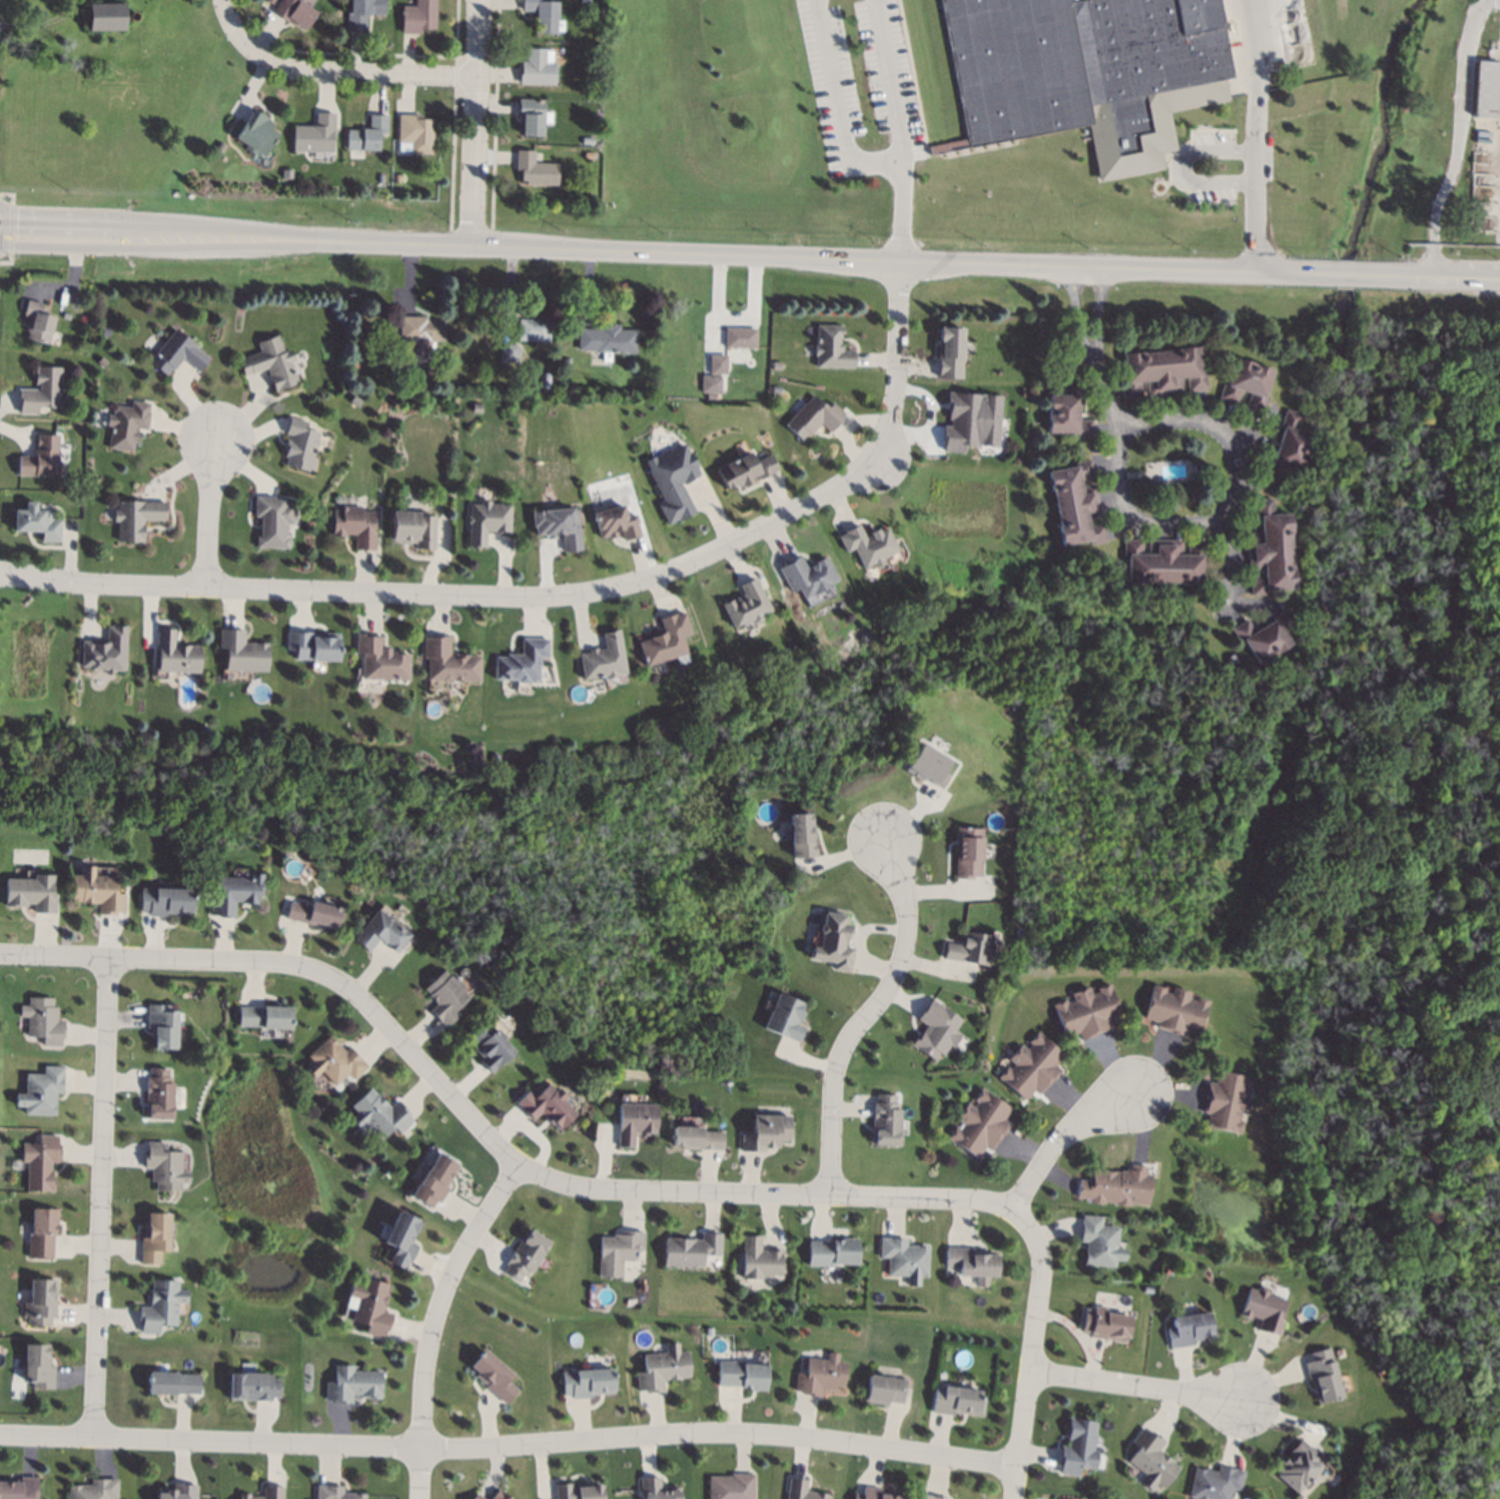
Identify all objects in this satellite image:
road: (225, 1)
building: (271, 1)
building: (585, 1)
building: (295, 12)
building: (362, 13)
building: (543, 14)
building: (419, 16)
building: (107, 17)
building: (71, 42)
road: (1253, 58)
building: (537, 68)
road: (336, 69)
building: (594, 71)
building: (1086, 71)
road: (890, 83)
building: (1485, 89)
road: (836, 99)
building: (531, 116)
road: (477, 121)
road: (1457, 132)
building: (256, 133)
building: (414, 133)
building: (315, 134)
building: (368, 134)
building: (588, 139)
building: (947, 146)
building: (221, 147)
building: (589, 155)
road: (1180, 167)
building: (535, 169)
building: (287, 174)
building: (381, 178)
building: (398, 178)
road: (1255, 193)
road: (11, 194)
road: (900, 209)
traffic signals: (17, 219)
road: (61, 220)
road: (10, 228)
road: (241, 228)
road: (180, 247)
road: (629, 249)
road: (9, 262)
road: (1104, 267)
road: (1350, 274)
road: (1444, 277)
road: (1077, 310)
road: (1098, 310)
building: (66, 315)
building: (37, 322)
building: (532, 329)
building: (420, 330)
building: (105, 331)
building: (740, 336)
building: (607, 338)
building: (830, 347)
building: (508, 352)
building: (947, 352)
building: (176, 353)
building: (352, 361)
building: (566, 361)
building: (271, 362)
building: (717, 363)
building: (1161, 371)
building: (434, 373)
building: (544, 380)
building: (717, 380)
building: (1247, 384)
building: (775, 388)
building: (40, 391)
road: (1107, 393)
building: (475, 407)
building: (1067, 411)
building: (812, 416)
building: (971, 420)
building: (126, 424)
building: (300, 445)
building: (1287, 446)
building: (40, 458)
building: (743, 470)
building: (672, 480)
building: (1075, 503)
road: (1226, 509)
building: (136, 517)
building: (272, 520)
building: (486, 520)
building: (36, 522)
road: (211, 522)
building: (615, 522)
building: (353, 525)
building: (557, 525)
building: (412, 528)
building: (867, 544)
building: (1270, 550)
road: (1224, 557)
building: (1163, 561)
building: (806, 576)
road: (563, 604)
building: (744, 604)
building: (663, 638)
building: (1260, 638)
building: (311, 645)
building: (104, 650)
building: (240, 651)
building: (174, 653)
building: (600, 657)
building: (377, 659)
building: (1230, 659)
building: (445, 660)
building: (519, 661)
building: (928, 765)
building: (800, 835)
building: (966, 851)
building: (31, 891)
building: (96, 891)
building: (235, 893)
building: (164, 901)
building: (314, 915)
building: (1018, 927)
building: (380, 932)
building: (832, 941)
building: (969, 948)
building: (444, 996)
building: (1173, 1009)
building: (1086, 1011)
building: (263, 1015)
building: (783, 1018)
road: (867, 1018)
building: (42, 1020)
building: (159, 1024)
building: (935, 1029)
building: (486, 1046)
building: (333, 1061)
building: (1030, 1066)
building: (40, 1091)
building: (155, 1093)
building: (1224, 1101)
building: (544, 1105)
building: (378, 1113)
building: (882, 1119)
building: (631, 1122)
building: (979, 1123)
road: (485, 1132)
building: (764, 1132)
road: (1061, 1132)
building: (694, 1139)
building: (40, 1162)
building: (161, 1166)
building: (434, 1179)
building: (1116, 1186)
road: (99, 1197)
building: (41, 1232)
building: (154, 1239)
building: (400, 1239)
building: (1100, 1242)
building: (690, 1249)
building: (617, 1251)
building: (831, 1252)
building: (525, 1255)
building: (758, 1259)
building: (904, 1259)
building: (970, 1262)
building: (1147, 1288)
building: (40, 1301)
building: (160, 1305)
building: (368, 1305)
building: (1263, 1310)
road: (432, 1321)
building: (1105, 1323)
building: (1188, 1329)
road: (1036, 1349)
building: (35, 1366)
building: (662, 1368)
building: (820, 1374)
building: (493, 1375)
building: (741, 1375)
building: (1321, 1375)
building: (586, 1381)
building: (171, 1382)
building: (351, 1384)
road: (1139, 1384)
building: (253, 1386)
building: (883, 1390)
building: (956, 1401)
road: (508, 1442)
building: (1076, 1445)
building: (1151, 1458)
building: (1296, 1467)
building: (1214, 1482)
building: (730, 1487)
building: (19, 1488)
building: (94, 1489)
building: (657, 1490)
building: (576, 1491)
building: (801, 1491)
building: (178, 1492)
building: (265, 1493)
building: (334, 1493)
building: (873, 1494)
building: (500, 1495)
building: (476, 1496)
building: (931, 1497)

